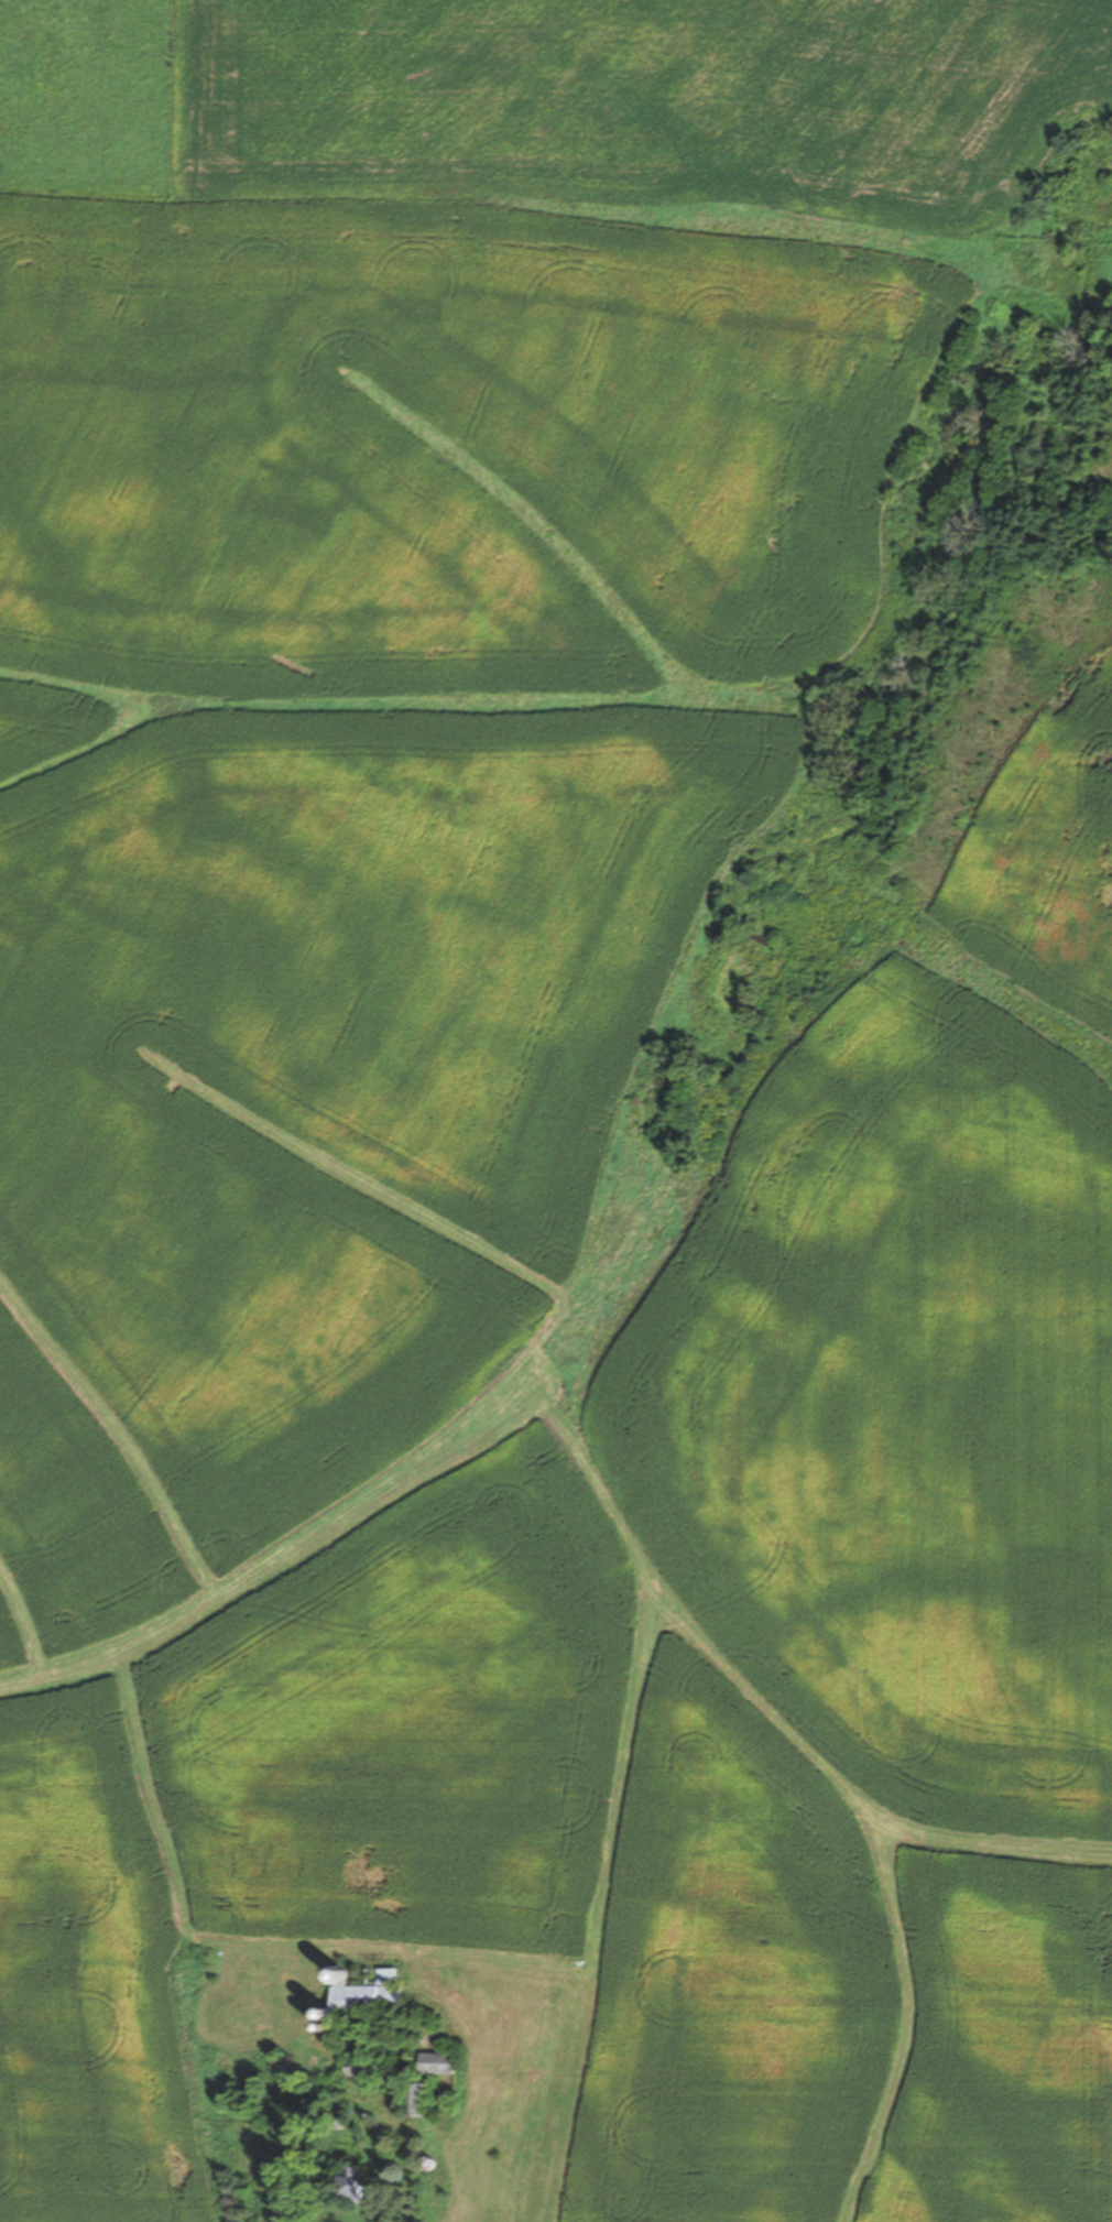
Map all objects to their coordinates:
building: (369, 1992)
building: (434, 2062)
building: (366, 2066)
building: (412, 2098)
building: (334, 2120)

